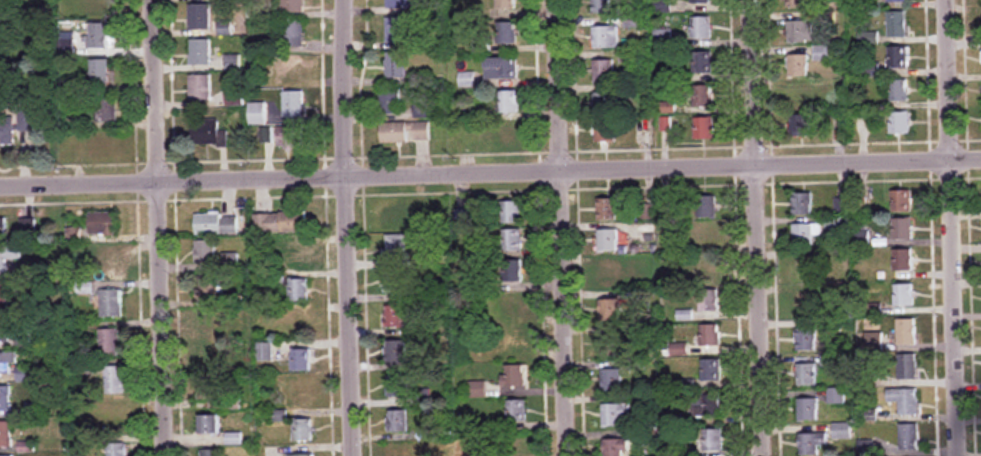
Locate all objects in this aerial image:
building: (700, 1)
building: (896, 1)
building: (401, 4)
building: (505, 4)
building: (795, 4)
building: (292, 6)
building: (601, 6)
building: (199, 16)
building: (897, 24)
building: (701, 28)
building: (399, 30)
building: (801, 31)
building: (505, 33)
building: (293, 34)
building: (97, 36)
building: (605, 38)
building: (200, 52)
building: (825, 53)
building: (898, 57)
building: (232, 63)
building: (702, 63)
building: (396, 65)
building: (798, 65)
building: (293, 68)
building: (501, 68)
building: (99, 72)
building: (603, 72)
building: (472, 81)
building: (200, 87)
building: (898, 90)
building: (234, 96)
building: (704, 96)
building: (390, 100)
building: (508, 102)
building: (293, 103)
building: (604, 104)
building: (106, 109)
building: (422, 110)
building: (258, 113)
building: (900, 122)
building: (800, 125)
building: (704, 128)
building: (465, 131)
building: (604, 131)
building: (7, 132)
building: (208, 132)
building: (406, 132)
building: (509, 133)
building: (291, 137)
road: (490, 181)
building: (901, 200)
building: (803, 204)
building: (708, 207)
building: (607, 210)
building: (510, 212)
building: (397, 219)
building: (281, 222)
building: (102, 223)
building: (217, 224)
road: (163, 227)
road: (566, 227)
road: (352, 228)
road: (756, 228)
road: (953, 228)
building: (3, 229)
building: (902, 229)
building: (807, 234)
building: (708, 235)
building: (512, 240)
building: (607, 241)
building: (395, 248)
building: (205, 251)
building: (298, 255)
building: (8, 257)
building: (903, 260)
building: (230, 262)
building: (108, 265)
building: (708, 266)
building: (804, 270)
building: (512, 271)
building: (608, 275)
building: (394, 282)
building: (208, 288)
building: (299, 290)
building: (3, 294)
building: (904, 295)
building: (709, 300)
building: (111, 303)
building: (805, 305)
building: (610, 310)
building: (395, 317)
building: (207, 321)
building: (300, 325)
building: (4, 329)
building: (907, 332)
building: (709, 335)
building: (806, 339)
building: (515, 341)
building: (110, 342)
building: (612, 345)
building: (265, 352)
building: (396, 352)
building: (208, 357)
building: (301, 360)
building: (7, 363)
building: (908, 367)
building: (711, 370)
building: (807, 374)
building: (514, 376)
building: (115, 379)
building: (612, 380)
building: (397, 386)
building: (477, 389)
building: (302, 395)
building: (217, 396)
building: (836, 396)
building: (4, 398)
building: (905, 401)
building: (706, 404)
building: (35, 408)
building: (807, 409)
building: (516, 411)
building: (616, 414)
building: (112, 418)
building: (398, 421)
building: (210, 424)
building: (303, 430)
building: (843, 431)
building: (5, 434)
building: (909, 438)
building: (712, 440)
building: (811, 444)
building: (524, 445)
building: (616, 447)
building: (116, 449)
building: (400, 450)
building: (210, 452)
building: (302, 455)

